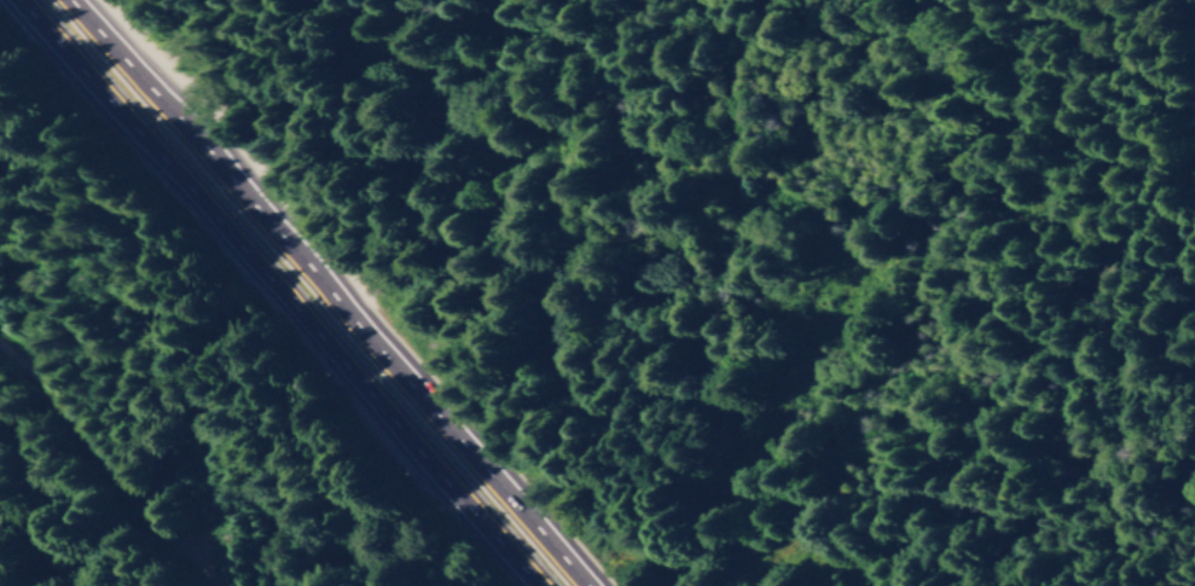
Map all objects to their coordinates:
road: (266, 292)
road: (320, 292)
road: (94, 476)

